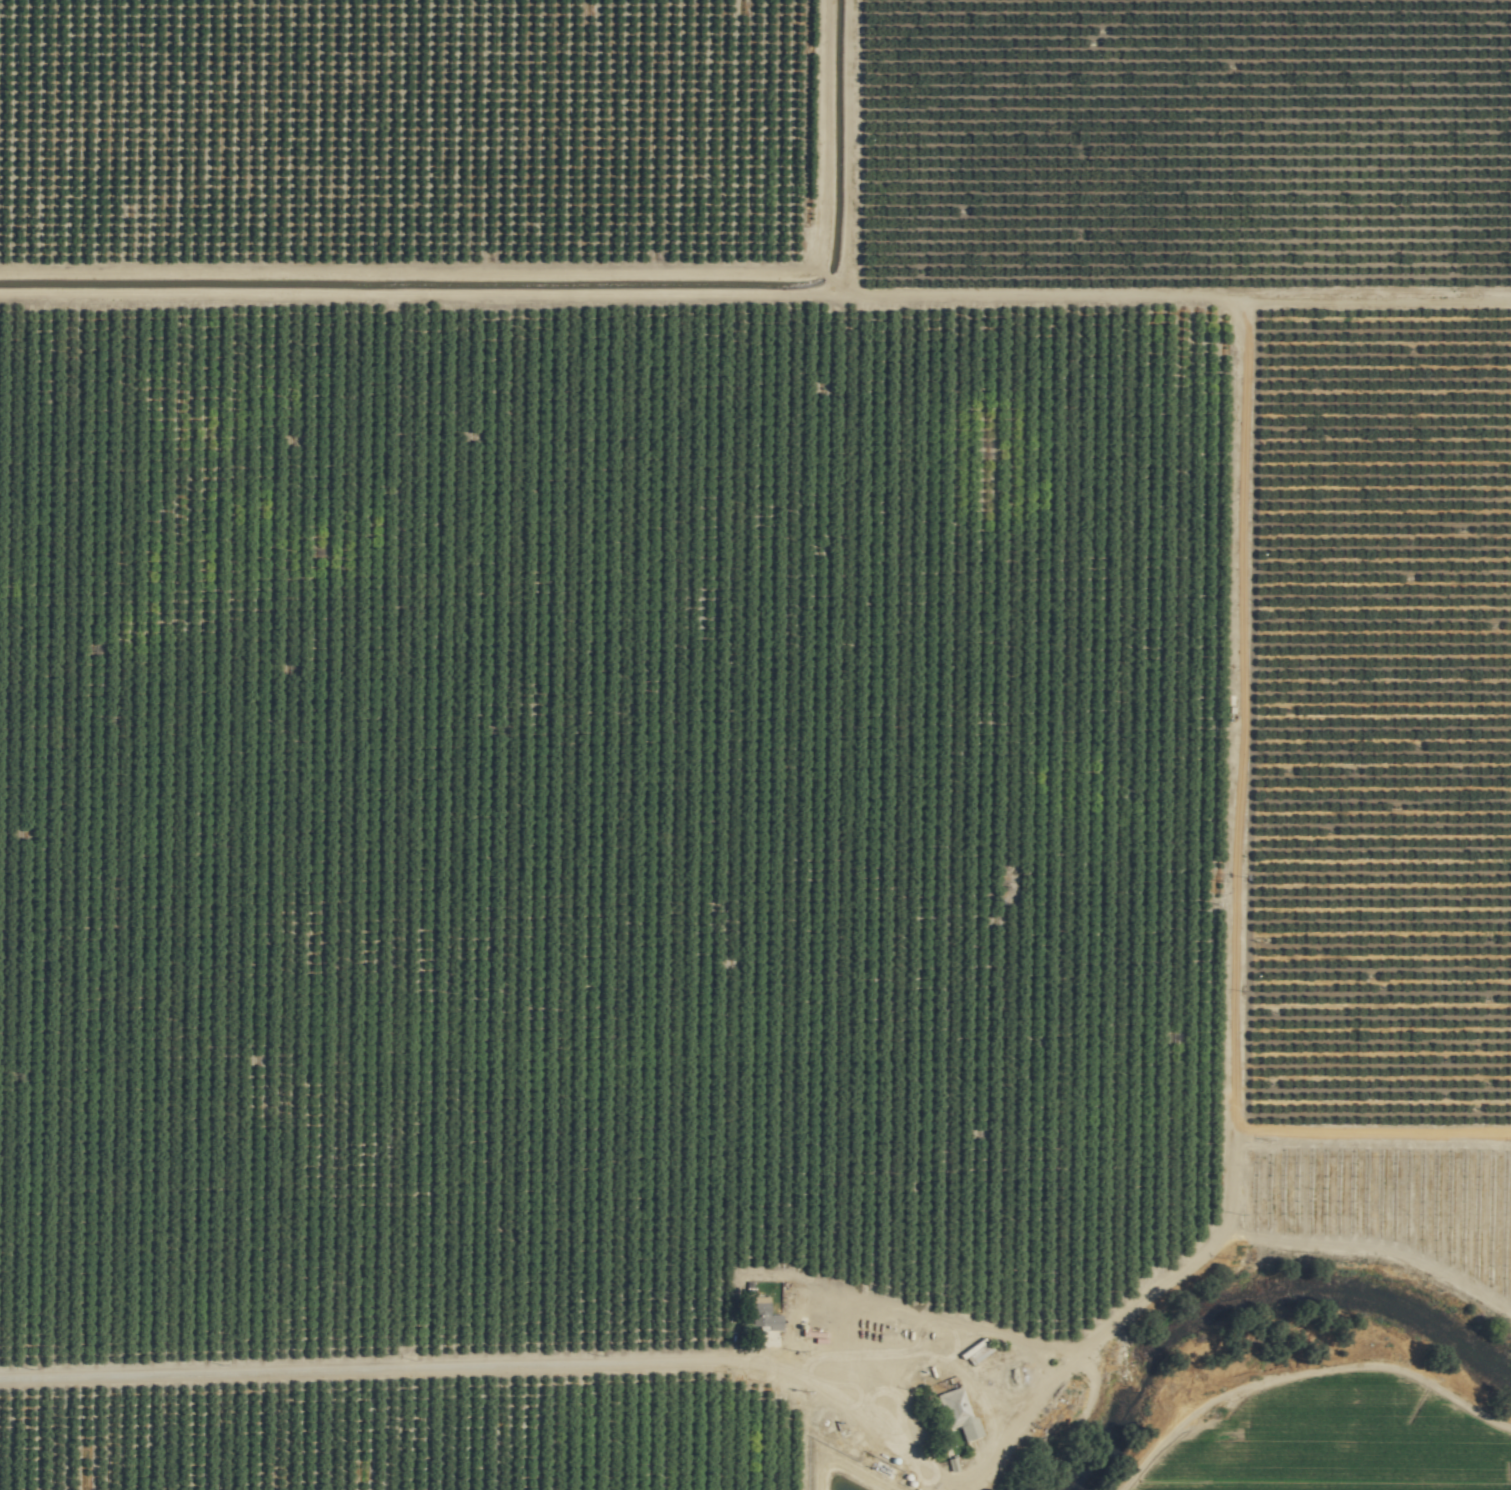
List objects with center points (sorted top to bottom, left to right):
road: (1208, 1238)
road: (432, 1366)
building: (959, 1413)

